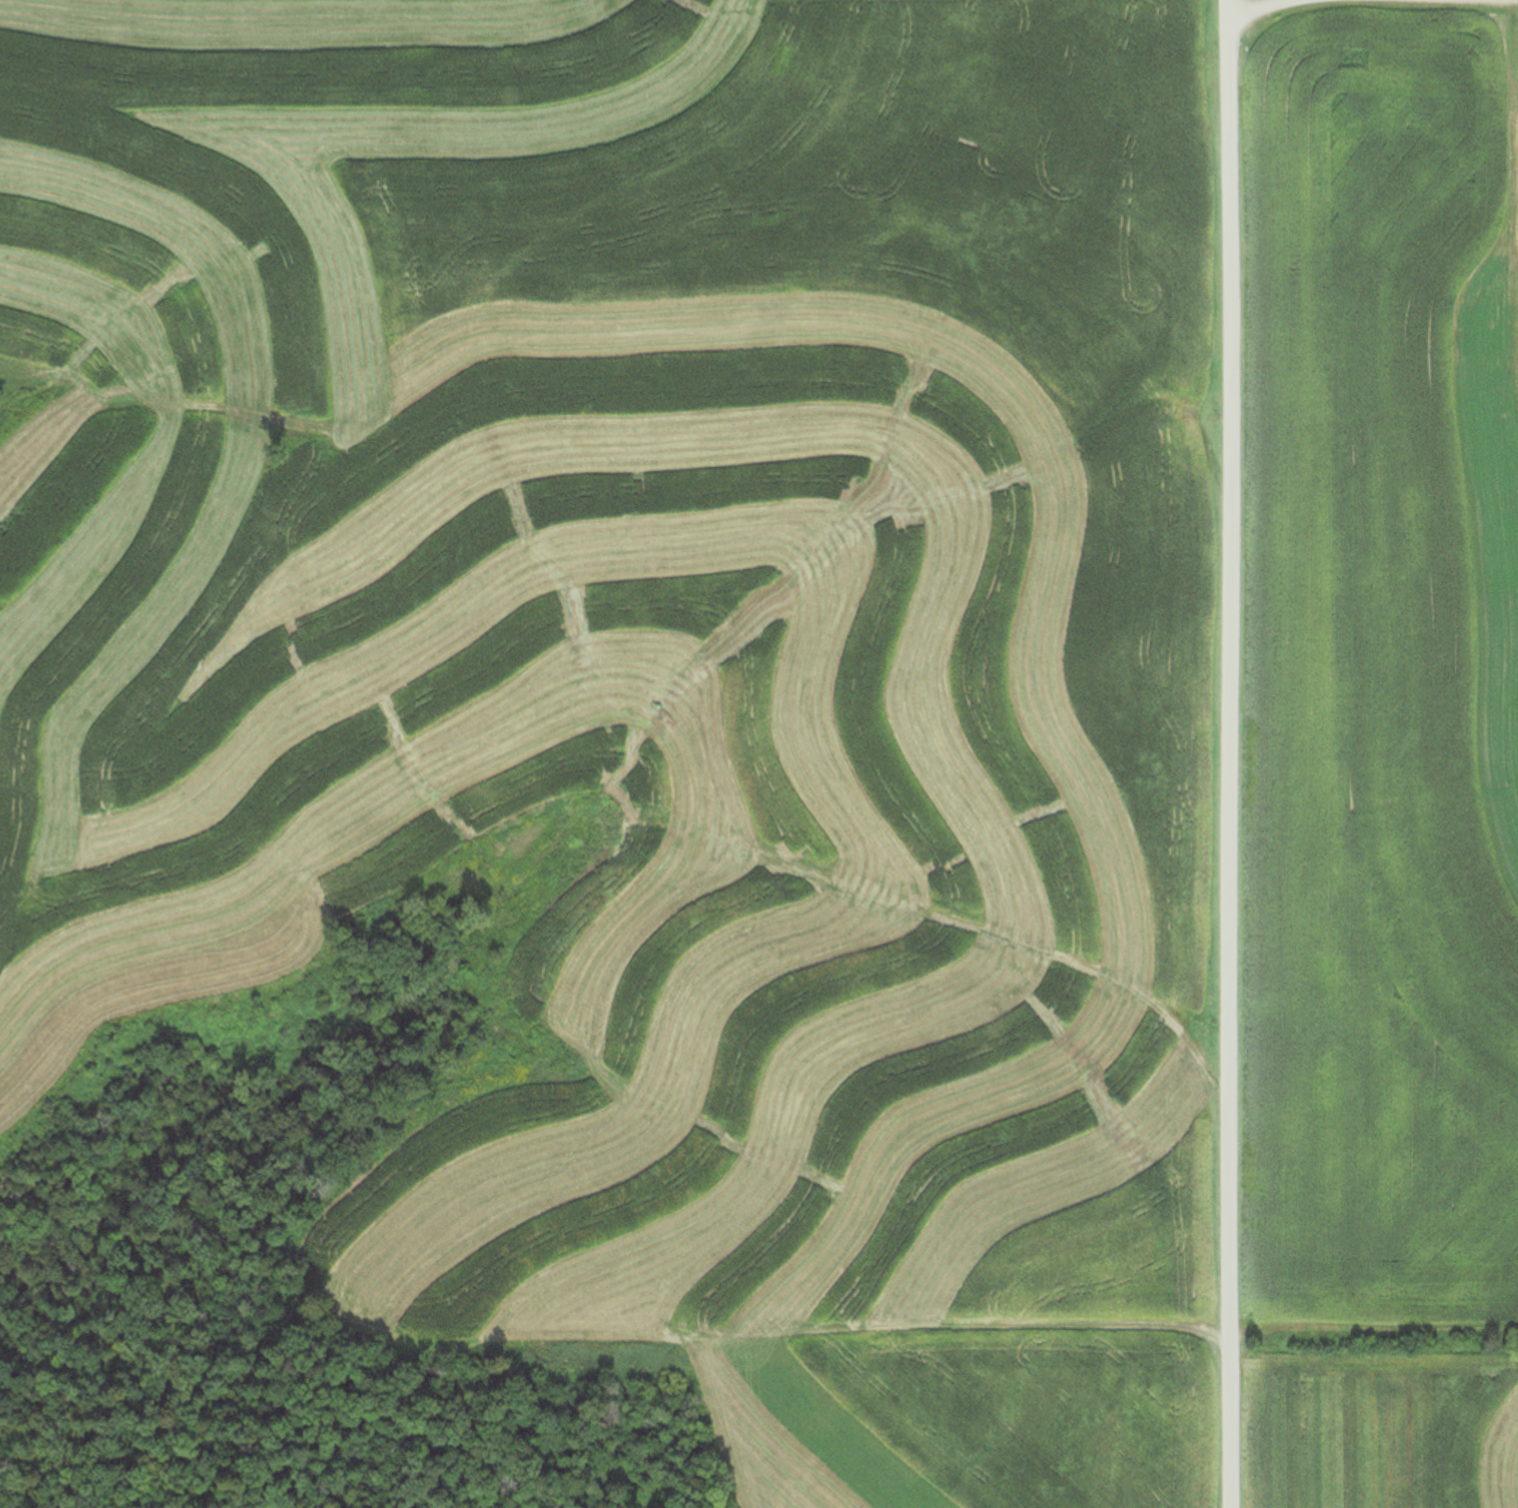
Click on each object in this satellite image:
road: (1255, 7)
road: (1229, 754)

